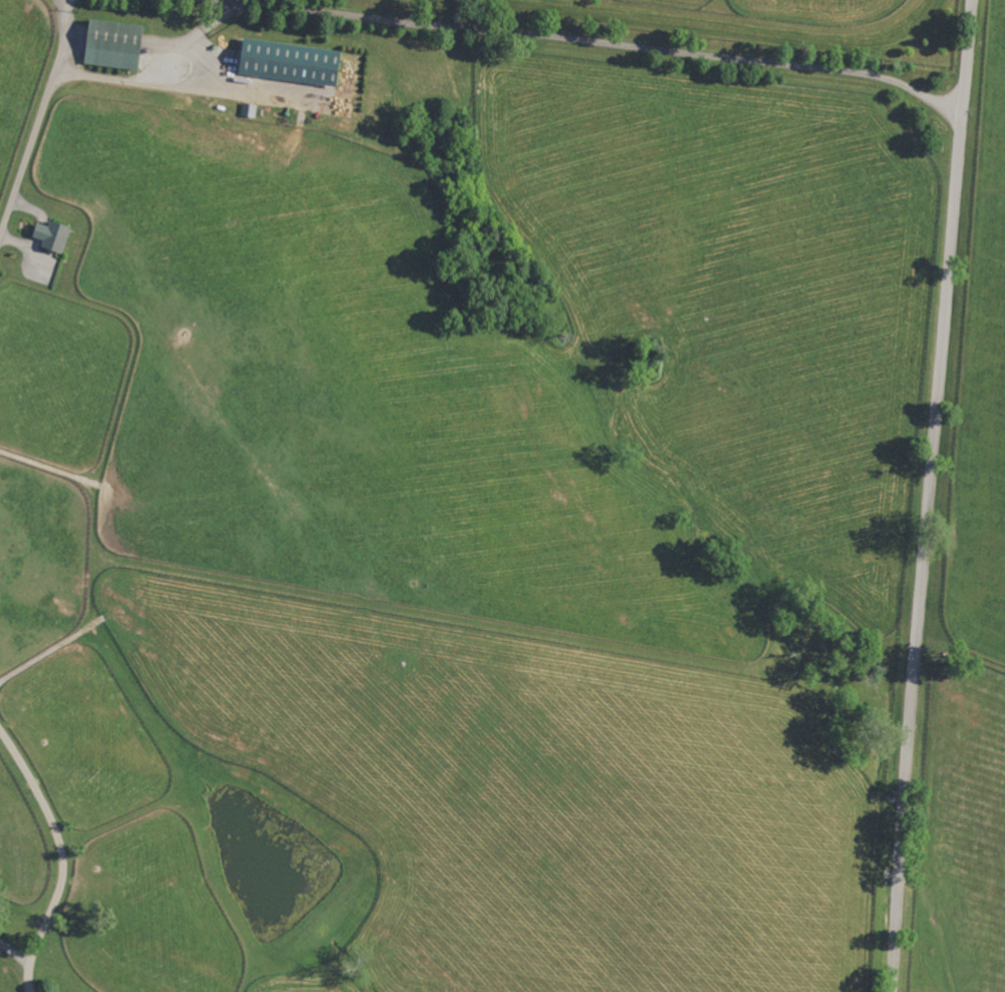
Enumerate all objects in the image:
road: (605, 41)
building: (112, 42)
building: (288, 60)
road: (41, 117)
building: (51, 233)
road: (929, 495)
road: (62, 857)

